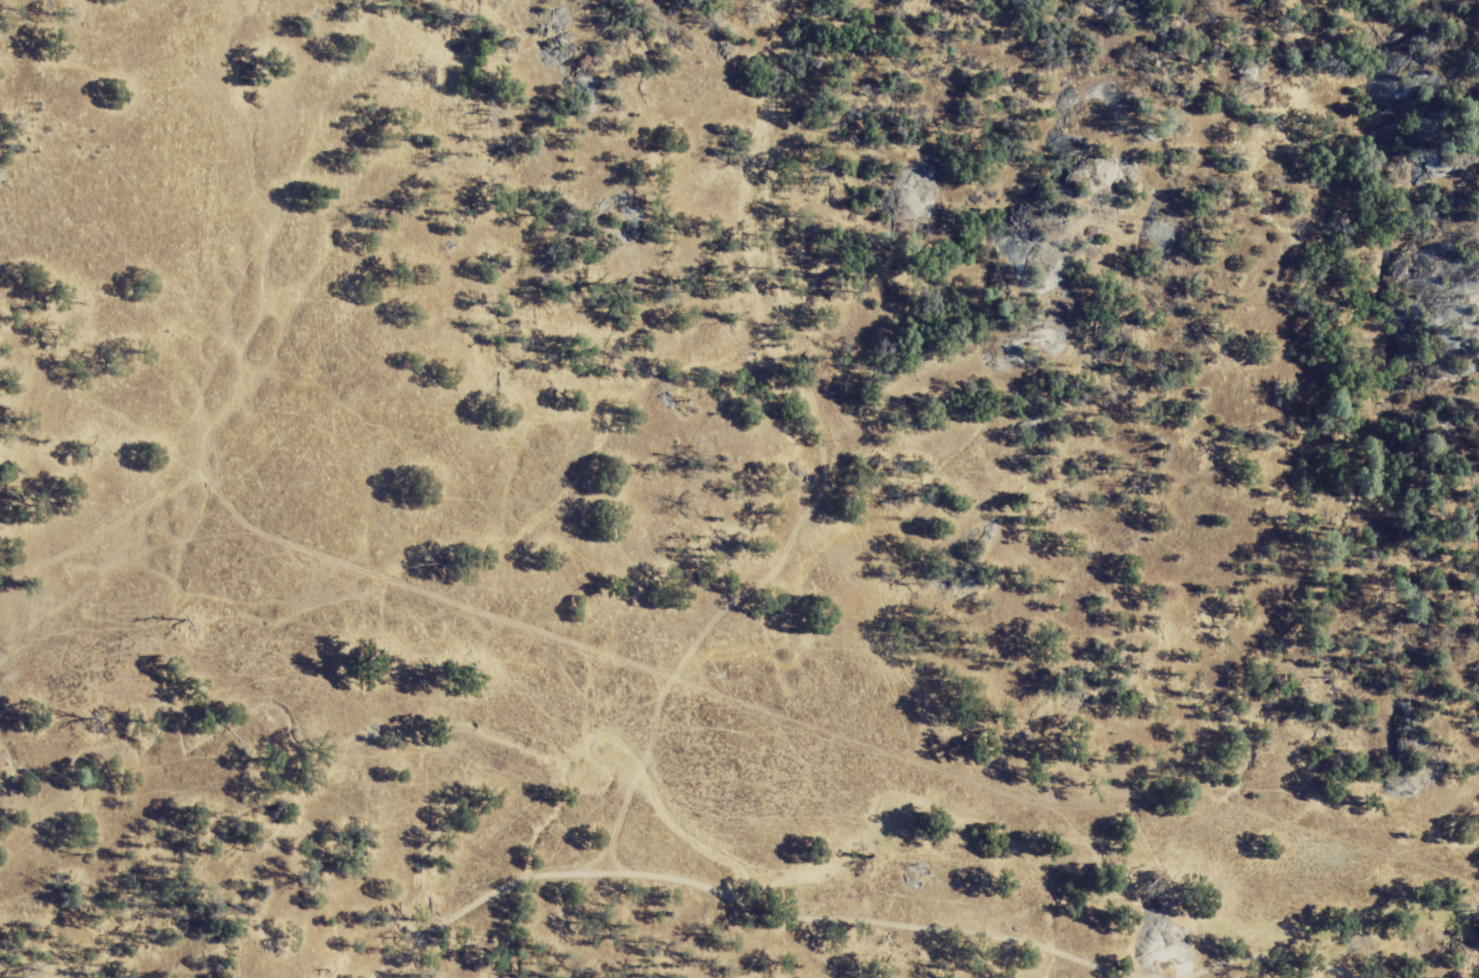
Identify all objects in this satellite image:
road: (776, 901)

